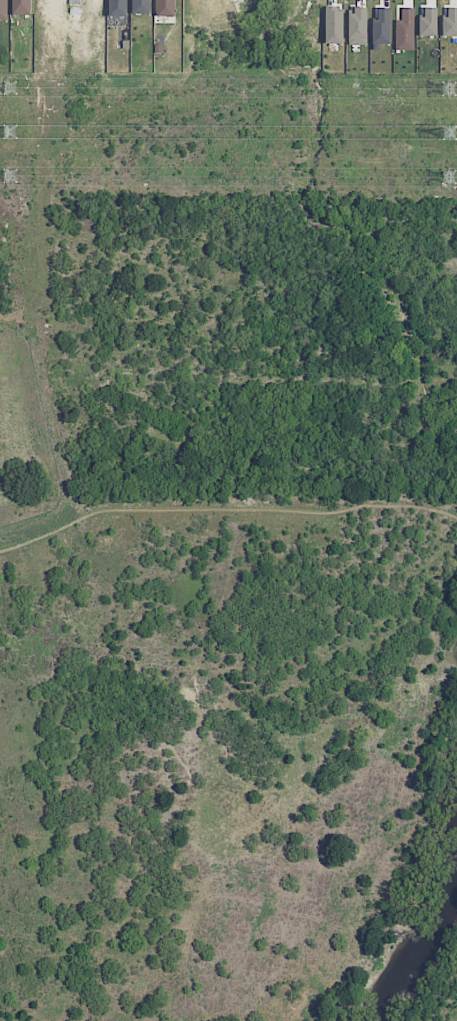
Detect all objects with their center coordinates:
building: (141, 6)
building: (21, 7)
building: (118, 8)
building: (166, 8)
building: (3, 10)
building: (334, 25)
building: (358, 25)
power tower: (448, 89)
power tower: (13, 92)
power tower: (12, 133)
power tower: (451, 134)
power tower: (12, 176)
power tower: (451, 178)

